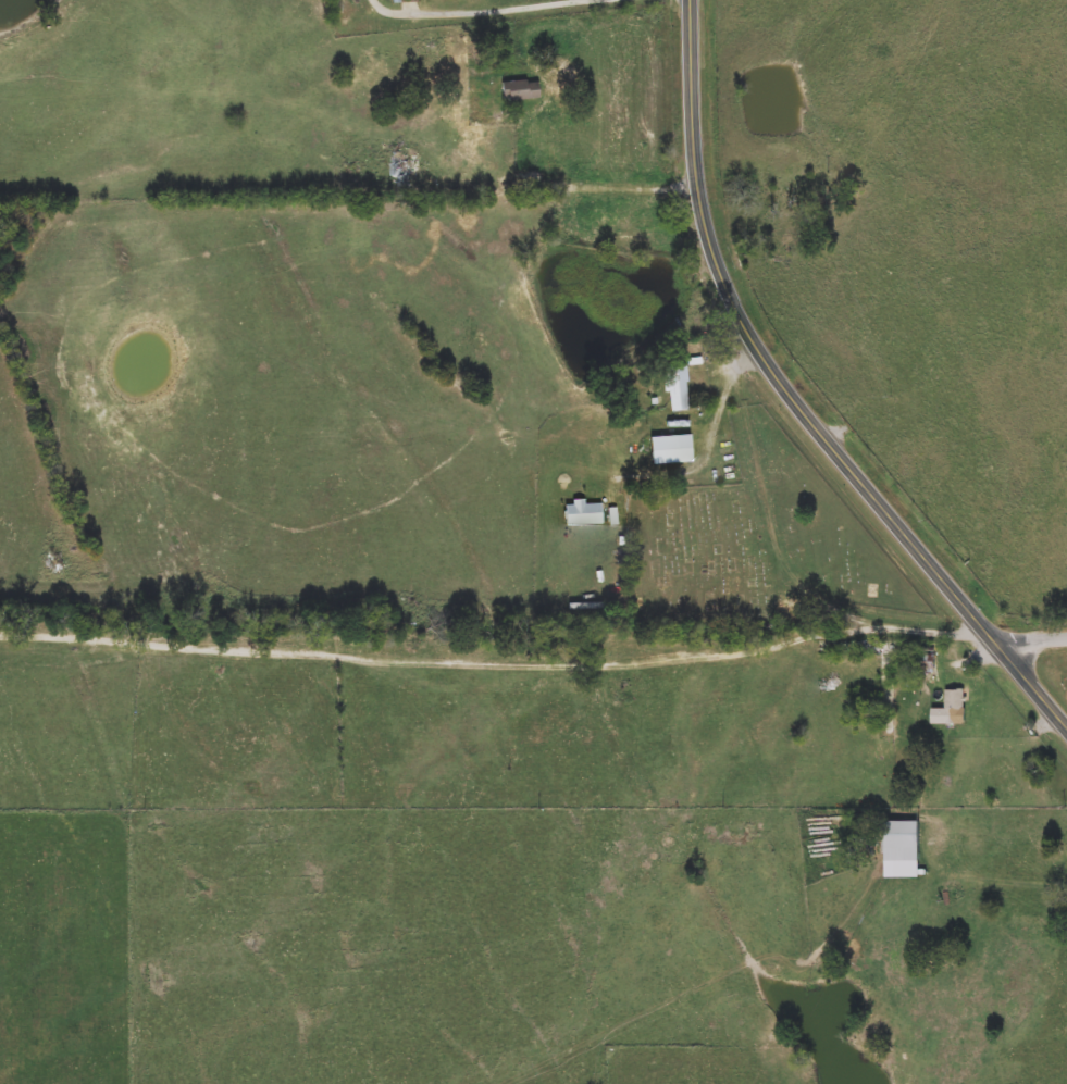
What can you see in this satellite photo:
building: (405, 2)
road: (495, 10)
building: (407, 74)
building: (498, 96)
building: (472, 139)
road: (581, 189)
building: (678, 384)
road: (797, 394)
park: (756, 543)
road: (799, 578)
road: (1033, 638)
building: (885, 649)
road: (442, 660)
building: (953, 706)
building: (903, 842)
road: (1008, 874)

